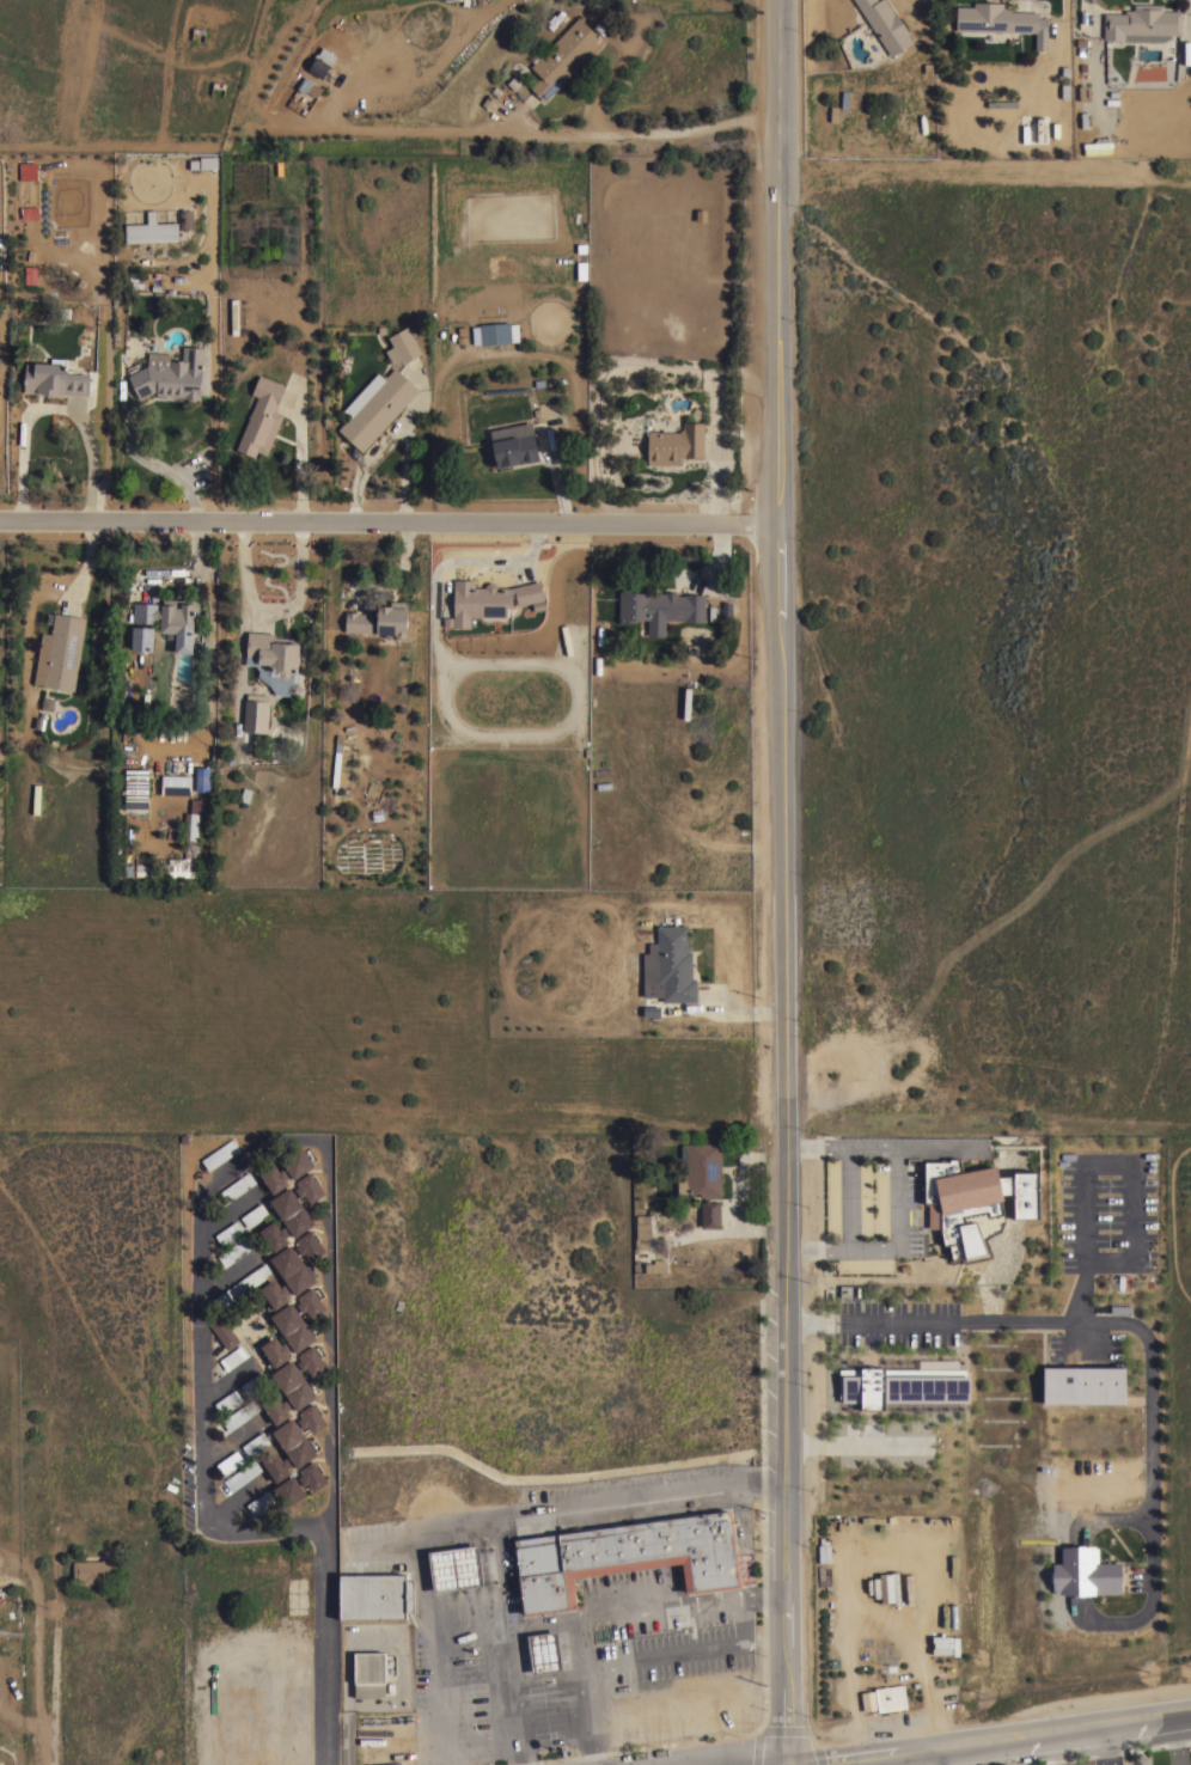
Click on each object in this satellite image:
road: (1028, 1)
road: (1088, 16)
building: (1000, 23)
building: (885, 24)
building: (1142, 24)
building: (1187, 51)
building: (563, 56)
building: (322, 62)
building: (309, 86)
building: (1083, 91)
building: (1001, 103)
building: (1033, 128)
road: (549, 132)
building: (1099, 142)
building: (297, 165)
building: (187, 220)
building: (152, 231)
building: (233, 316)
building: (499, 332)
building: (402, 346)
building: (170, 374)
building: (55, 378)
road: (53, 405)
building: (375, 407)
building: (262, 417)
road: (396, 435)
building: (676, 444)
building: (515, 447)
road: (301, 452)
road: (155, 463)
road: (389, 521)
building: (488, 599)
building: (659, 607)
road: (273, 609)
building: (169, 616)
building: (380, 619)
building: (140, 639)
building: (60, 652)
building: (274, 652)
building: (294, 689)
building: (256, 713)
building: (336, 761)
building: (176, 786)
building: (135, 789)
building: (36, 799)
building: (191, 822)
building: (145, 867)
road: (783, 882)
building: (668, 965)
building: (220, 1154)
building: (297, 1161)
building: (273, 1177)
building: (703, 1179)
building: (309, 1186)
building: (237, 1187)
road: (850, 1196)
road: (899, 1198)
building: (975, 1205)
building: (292, 1211)
building: (254, 1215)
building: (228, 1233)
building: (643, 1233)
building: (274, 1235)
building: (310, 1245)
building: (237, 1250)
building: (655, 1265)
building: (292, 1269)
building: (243, 1285)
building: (274, 1293)
building: (311, 1302)
road: (1081, 1323)
building: (293, 1326)
building: (224, 1332)
road: (202, 1343)
building: (275, 1350)
building: (233, 1357)
building: (311, 1360)
building: (904, 1381)
building: (254, 1382)
building: (294, 1384)
building: (1083, 1385)
building: (227, 1400)
building: (275, 1409)
building: (240, 1415)
building: (311, 1417)
building: (294, 1442)
building: (255, 1443)
road: (854, 1446)
building: (230, 1461)
road: (330, 1462)
building: (276, 1466)
building: (243, 1474)
building: (312, 1474)
building: (288, 1491)
building: (259, 1502)
road: (495, 1520)
building: (824, 1552)
building: (627, 1556)
building: (454, 1568)
building: (93, 1570)
building: (1083, 1572)
road: (499, 1576)
building: (890, 1587)
building: (909, 1588)
building: (374, 1595)
road: (645, 1605)
building: (946, 1643)
building: (544, 1651)
road: (646, 1656)
building: (368, 1673)
building: (890, 1697)
road: (517, 1700)
building: (868, 1700)
road: (436, 1711)
road: (1002, 1737)
road: (1107, 1743)
road: (939, 1755)
building: (0, 1764)

